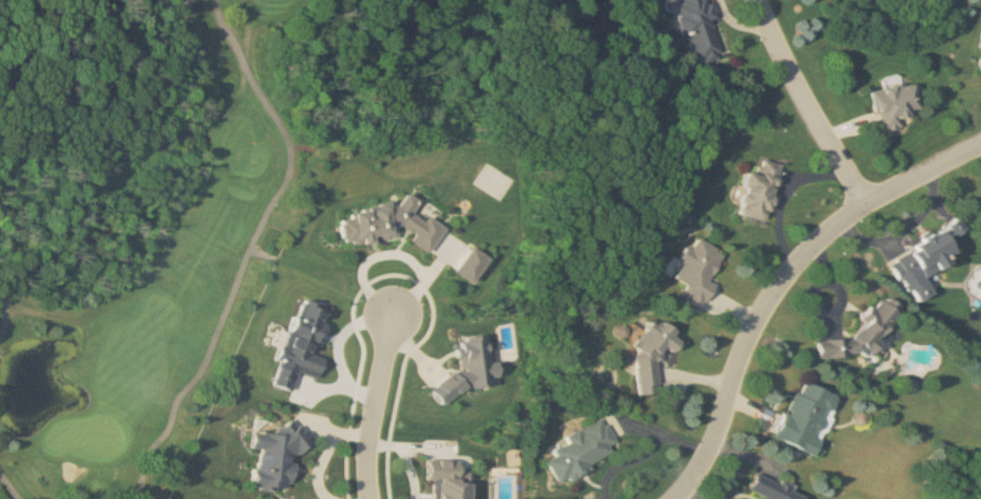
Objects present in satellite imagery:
building: (701, 29)
road: (807, 104)
building: (897, 105)
building: (761, 192)
road: (786, 195)
park: (155, 212)
road: (250, 250)
building: (928, 262)
building: (700, 273)
road: (781, 281)
road: (4, 311)
building: (881, 321)
building: (655, 354)
road: (375, 405)
building: (808, 419)
park: (85, 433)
building: (582, 451)
building: (281, 455)
road: (9, 486)
building: (774, 489)

